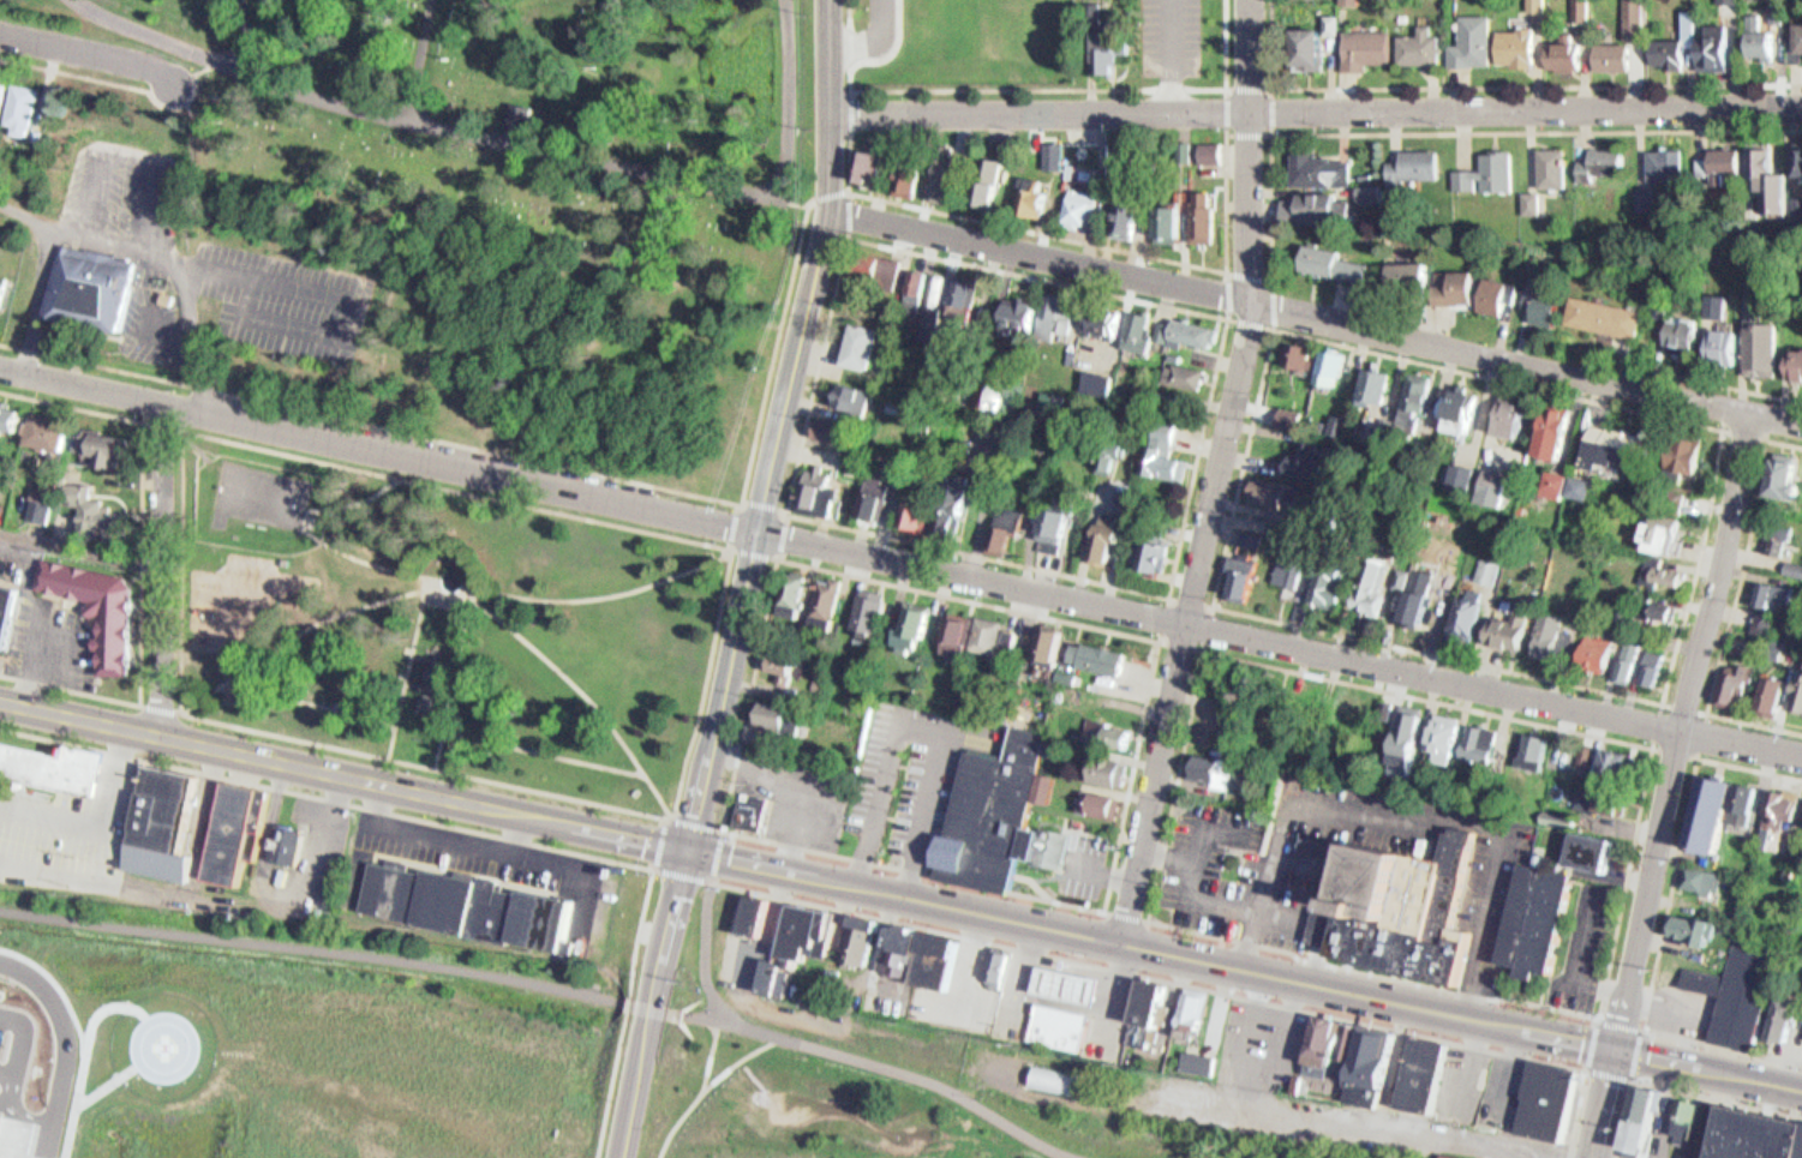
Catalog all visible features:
building: (1580, 10)
road: (1216, 11)
building: (1634, 17)
parking lot: (1180, 22)
road: (1181, 23)
road: (1234, 23)
park: (1030, 28)
road: (246, 31)
building: (1473, 40)
building: (1764, 42)
building: (1676, 46)
building: (1718, 46)
building: (1365, 47)
building: (1519, 47)
building: (1113, 48)
building: (1313, 48)
building: (1423, 48)
building: (1797, 48)
road: (89, 52)
building: (1610, 54)
road: (417, 55)
building: (1567, 55)
building: (0, 77)
park: (515, 78)
road: (130, 85)
road: (1493, 85)
road: (1041, 88)
road: (788, 97)
building: (13, 102)
road: (1317, 107)
building: (28, 109)
road: (854, 109)
building: (522, 114)
road: (423, 115)
building: (538, 125)
road: (1466, 132)
road: (1275, 133)
road: (122, 149)
building: (1214, 155)
building: (1060, 156)
building: (1726, 160)
building: (1798, 161)
building: (1604, 163)
building: (1666, 164)
building: (876, 166)
building: (1414, 166)
building: (1551, 166)
building: (1328, 170)
building: (1138, 172)
building: (1490, 173)
building: (954, 175)
building: (1770, 179)
building: (916, 180)
building: (996, 184)
building: (1038, 194)
building: (1645, 198)
building: (1086, 206)
building: (1322, 208)
road: (25, 212)
building: (1209, 217)
building: (1132, 221)
building: (1175, 223)
road: (852, 238)
road: (1080, 241)
parking lot: (196, 260)
building: (1335, 260)
building: (868, 262)
road: (210, 264)
building: (885, 269)
building: (1414, 277)
building: (912, 281)
building: (86, 283)
building: (1460, 287)
building: (4, 293)
building: (162, 293)
building: (1497, 294)
building: (930, 301)
building: (960, 301)
building: (972, 302)
building: (1550, 304)
building: (1016, 305)
road: (181, 306)
building: (941, 308)
building: (1053, 308)
road: (1256, 313)
building: (1101, 316)
building: (1029, 317)
road: (1315, 317)
building: (1606, 318)
road: (1232, 319)
building: (1115, 323)
building: (1160, 324)
building: (1191, 325)
road: (1276, 326)
building: (1137, 329)
building: (1689, 332)
building: (857, 340)
building: (868, 346)
building: (1731, 348)
building: (1768, 349)
building: (1299, 354)
building: (927, 356)
building: (1800, 365)
building: (1336, 367)
building: (1181, 368)
building: (1094, 376)
building: (1192, 377)
road: (1717, 383)
building: (1106, 384)
building: (1376, 386)
building: (850, 390)
building: (1424, 396)
building: (8, 409)
building: (1469, 412)
building: (1285, 416)
building: (1517, 418)
building: (46, 421)
building: (832, 422)
building: (1340, 425)
building: (12, 426)
road: (785, 427)
road: (187, 428)
building: (840, 431)
building: (1393, 431)
building: (1552, 431)
road: (1722, 431)
road: (1725, 431)
building: (96, 437)
building: (1161, 446)
building: (1621, 448)
road: (516, 454)
building: (1174, 454)
building: (1693, 455)
road: (324, 458)
building: (1313, 462)
building: (1462, 475)
building: (1789, 479)
building: (1555, 484)
building: (816, 486)
building: (1495, 487)
building: (1585, 487)
building: (5, 488)
building: (870, 492)
building: (1274, 492)
park: (267, 494)
building: (884, 498)
building: (85, 499)
building: (35, 502)
building: (914, 504)
building: (926, 514)
building: (950, 517)
building: (1049, 520)
building: (960, 523)
building: (1002, 524)
building: (1060, 530)
building: (1014, 532)
building: (1662, 532)
building: (1103, 536)
building: (1257, 539)
building: (1777, 539)
building: (1113, 545)
building: (1165, 548)
road: (84, 550)
building: (1149, 551)
road: (900, 559)
road: (784, 560)
road: (145, 564)
building: (1287, 568)
road: (401, 569)
building: (1490, 571)
road: (168, 572)
building: (1663, 572)
building: (1250, 576)
fountain: (455, 578)
building: (1370, 578)
building: (1327, 581)
building: (804, 587)
building: (790, 589)
building: (1339, 590)
building: (1381, 592)
building: (1773, 593)
road: (521, 595)
road: (466, 596)
building: (822, 596)
building: (836, 598)
building: (1756, 598)
road: (972, 600)
building: (1413, 601)
building: (866, 605)
road: (1732, 605)
building: (103, 607)
building: (1427, 608)
building: (1461, 608)
building: (879, 612)
building: (8, 614)
building: (1473, 614)
building: (909, 623)
building: (1502, 624)
park: (444, 626)
building: (1543, 626)
building: (950, 630)
building: (982, 631)
building: (1771, 632)
building: (1553, 635)
building: (964, 637)
building: (1044, 640)
building: (1592, 644)
building: (1058, 646)
road: (1208, 649)
building: (1092, 650)
building: (1624, 650)
building: (1648, 654)
building: (780, 660)
building: (1635, 661)
building: (1659, 667)
building: (1732, 677)
road: (710, 686)
building: (1766, 688)
building: (1795, 688)
building: (1777, 696)
road: (167, 710)
building: (776, 713)
road: (915, 716)
building: (1110, 728)
road: (439, 730)
road: (1684, 730)
building: (1439, 732)
building: (1402, 733)
building: (1418, 734)
building: (1483, 737)
building: (1454, 738)
building: (1528, 743)
road: (1657, 748)
building: (1545, 752)
road: (1701, 755)
building: (1102, 762)
building: (1207, 762)
building: (50, 766)
building: (1616, 766)
road: (431, 767)
parking lot: (904, 770)
building: (1041, 781)
road: (1155, 781)
building: (1094, 796)
building: (1738, 797)
road: (327, 799)
building: (1773, 799)
building: (1750, 804)
building: (1622, 805)
building: (1702, 805)
building: (993, 809)
building: (755, 814)
building: (1783, 815)
building: (1558, 818)
building: (156, 822)
road: (699, 824)
building: (232, 828)
building: (287, 836)
road: (665, 844)
traffic signals: (690, 850)
building: (1591, 852)
road: (720, 856)
road: (688, 862)
road: (917, 870)
road: (670, 871)
road: (700, 878)
building: (261, 880)
building: (1702, 880)
road: (900, 894)
building: (466, 898)
building: (1402, 910)
building: (760, 916)
road: (1130, 916)
building: (1533, 922)
road: (1665, 922)
building: (1694, 929)
building: (814, 932)
building: (914, 938)
building: (862, 942)
road: (310, 948)
road: (711, 950)
building: (944, 959)
building: (1000, 968)
building: (778, 977)
building: (1064, 978)
gas station: (1064, 978)
road: (1196, 985)
building: (1740, 989)
building: (1155, 1000)
building: (1197, 1009)
road: (624, 1013)
parking lot: (2, 1016)
road: (655, 1016)
building: (1055, 1019)
building: (1786, 1020)
building: (1143, 1033)
helipad: (167, 1045)
road: (64, 1046)
traffic signals: (1614, 1046)
building: (1325, 1048)
building: (1349, 1049)
road: (743, 1058)
building: (1203, 1062)
building: (1376, 1064)
road: (892, 1067)
building: (1059, 1076)
building: (1425, 1076)
road: (1630, 1078)
road: (1677, 1088)
road: (705, 1093)
road: (1603, 1102)
building: (1552, 1103)
park: (809, 1104)
building: (1645, 1118)
building: (1690, 1120)
building: (8, 1133)
building: (1756, 1134)
building: (1454, 1156)
road: (1597, 1157)

